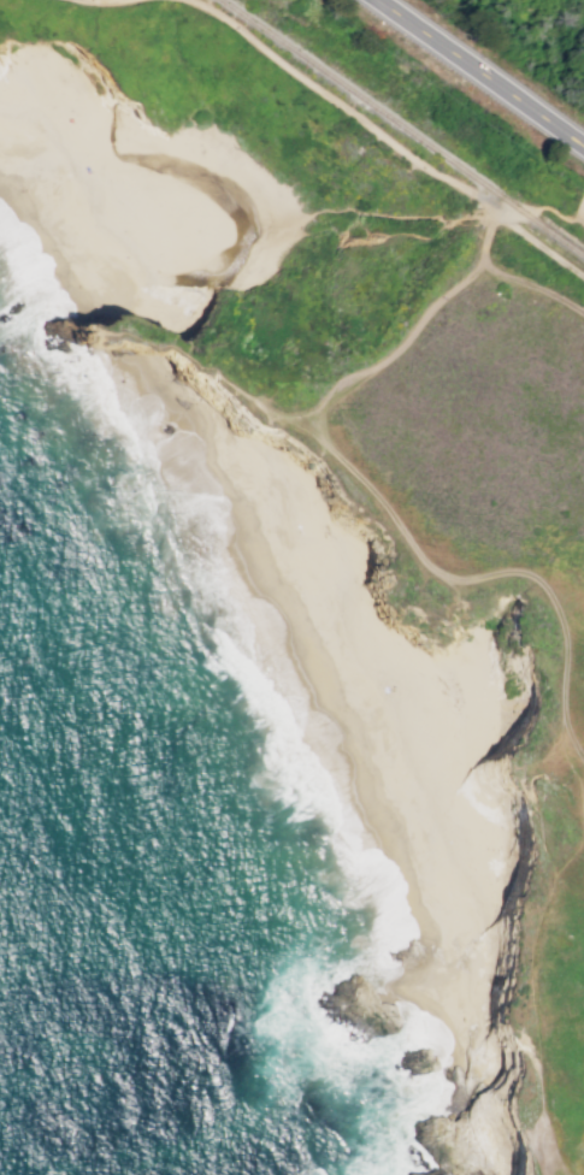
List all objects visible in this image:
road: (101, 4)
road: (477, 75)
road: (358, 120)
railway: (402, 129)
road: (537, 206)
parking lot: (578, 212)
road: (539, 243)
road: (205, 373)
road: (359, 480)
park: (381, 491)
road: (553, 882)

